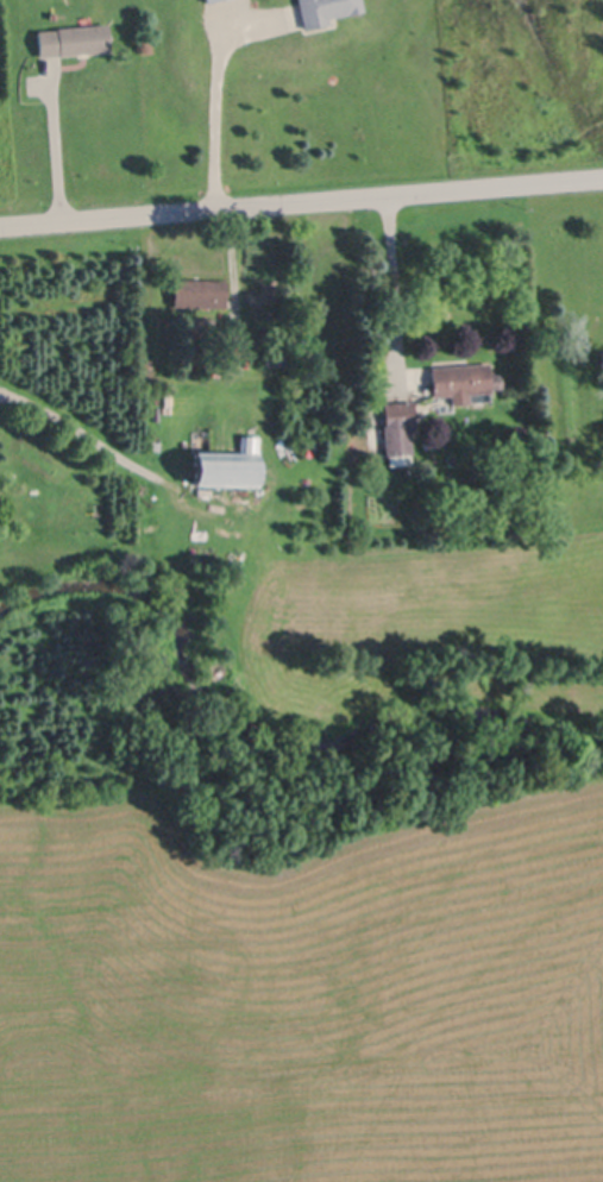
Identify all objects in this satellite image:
building: (206, 0)
building: (327, 10)
building: (75, 37)
road: (214, 114)
road: (54, 147)
road: (301, 200)
road: (232, 271)
road: (394, 287)
building: (200, 291)
building: (200, 325)
building: (295, 350)
building: (275, 357)
building: (188, 359)
building: (464, 377)
building: (400, 429)
road: (113, 451)
building: (230, 463)
river: (256, 746)

